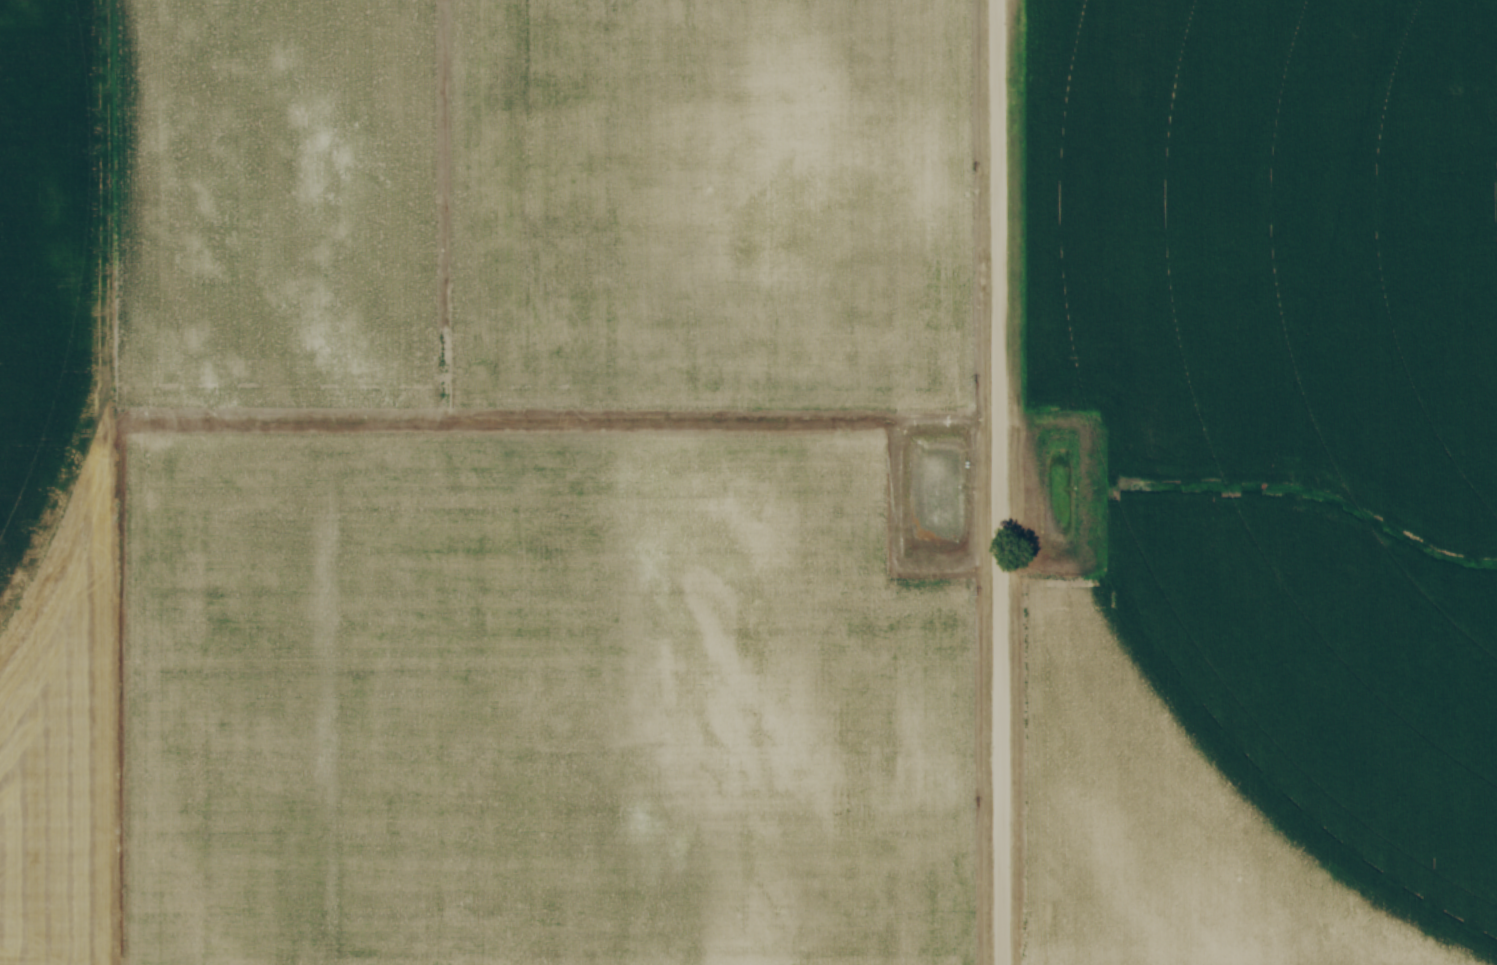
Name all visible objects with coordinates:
road: (1001, 482)

